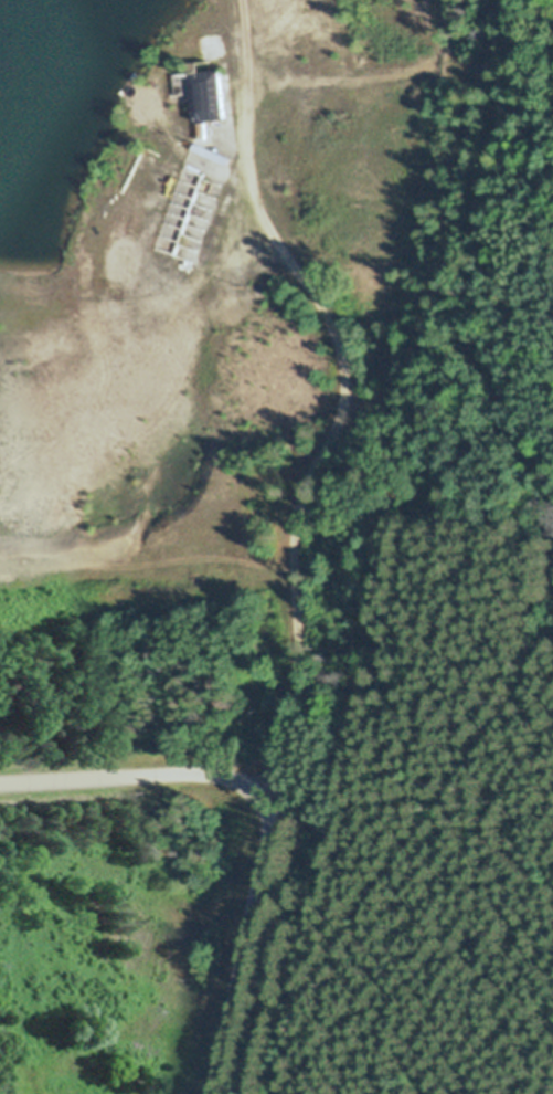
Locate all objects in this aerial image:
building: (205, 95)
road: (347, 396)
road: (265, 813)

